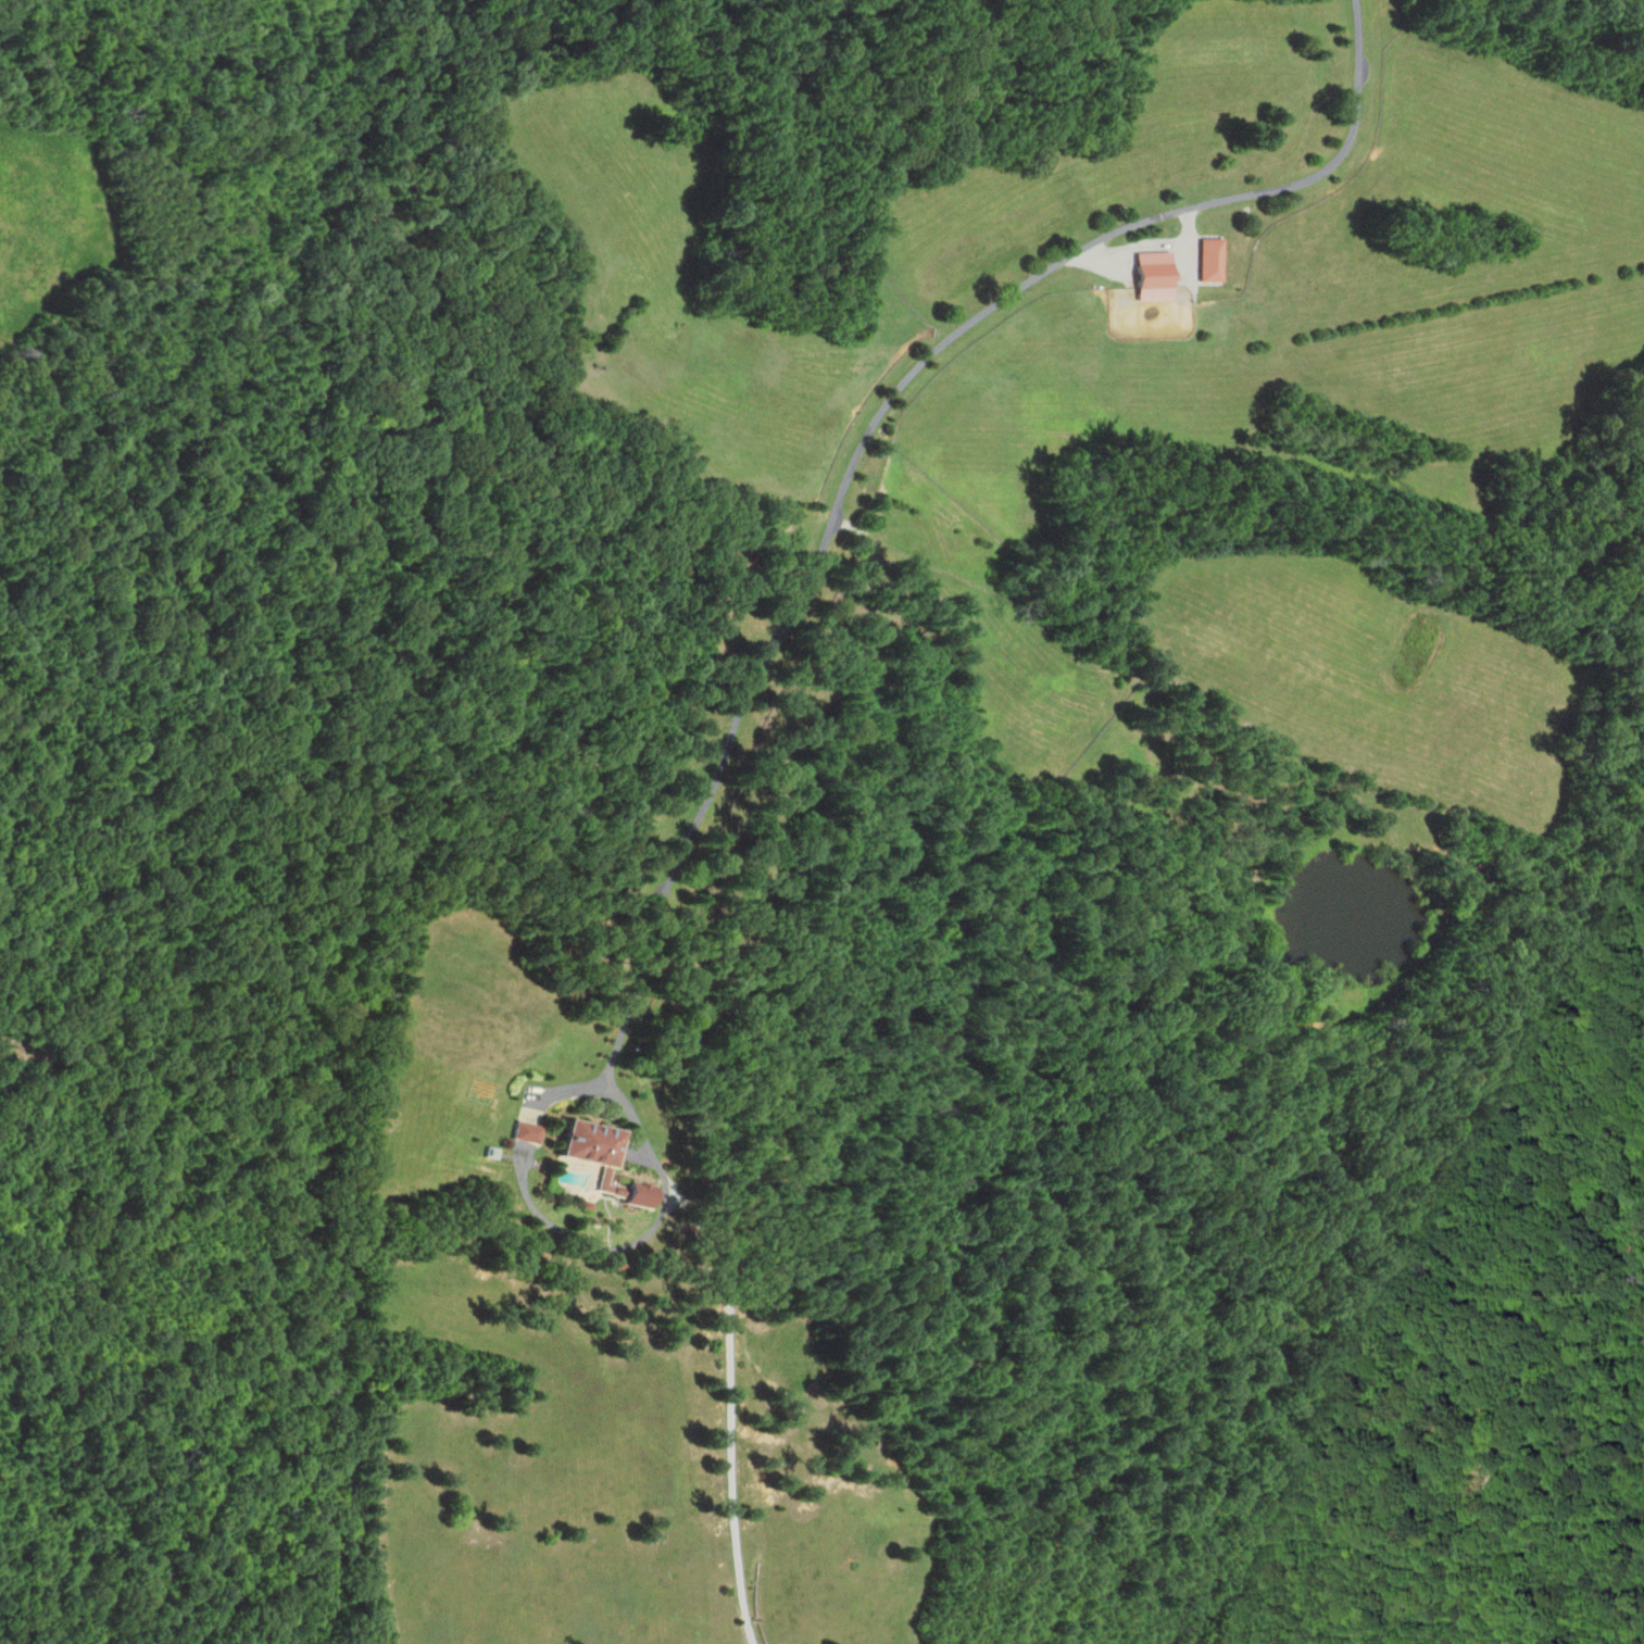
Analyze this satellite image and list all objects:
building: (1208, 260)
building: (1151, 276)
road: (746, 695)
building: (525, 1132)
building: (597, 1158)

